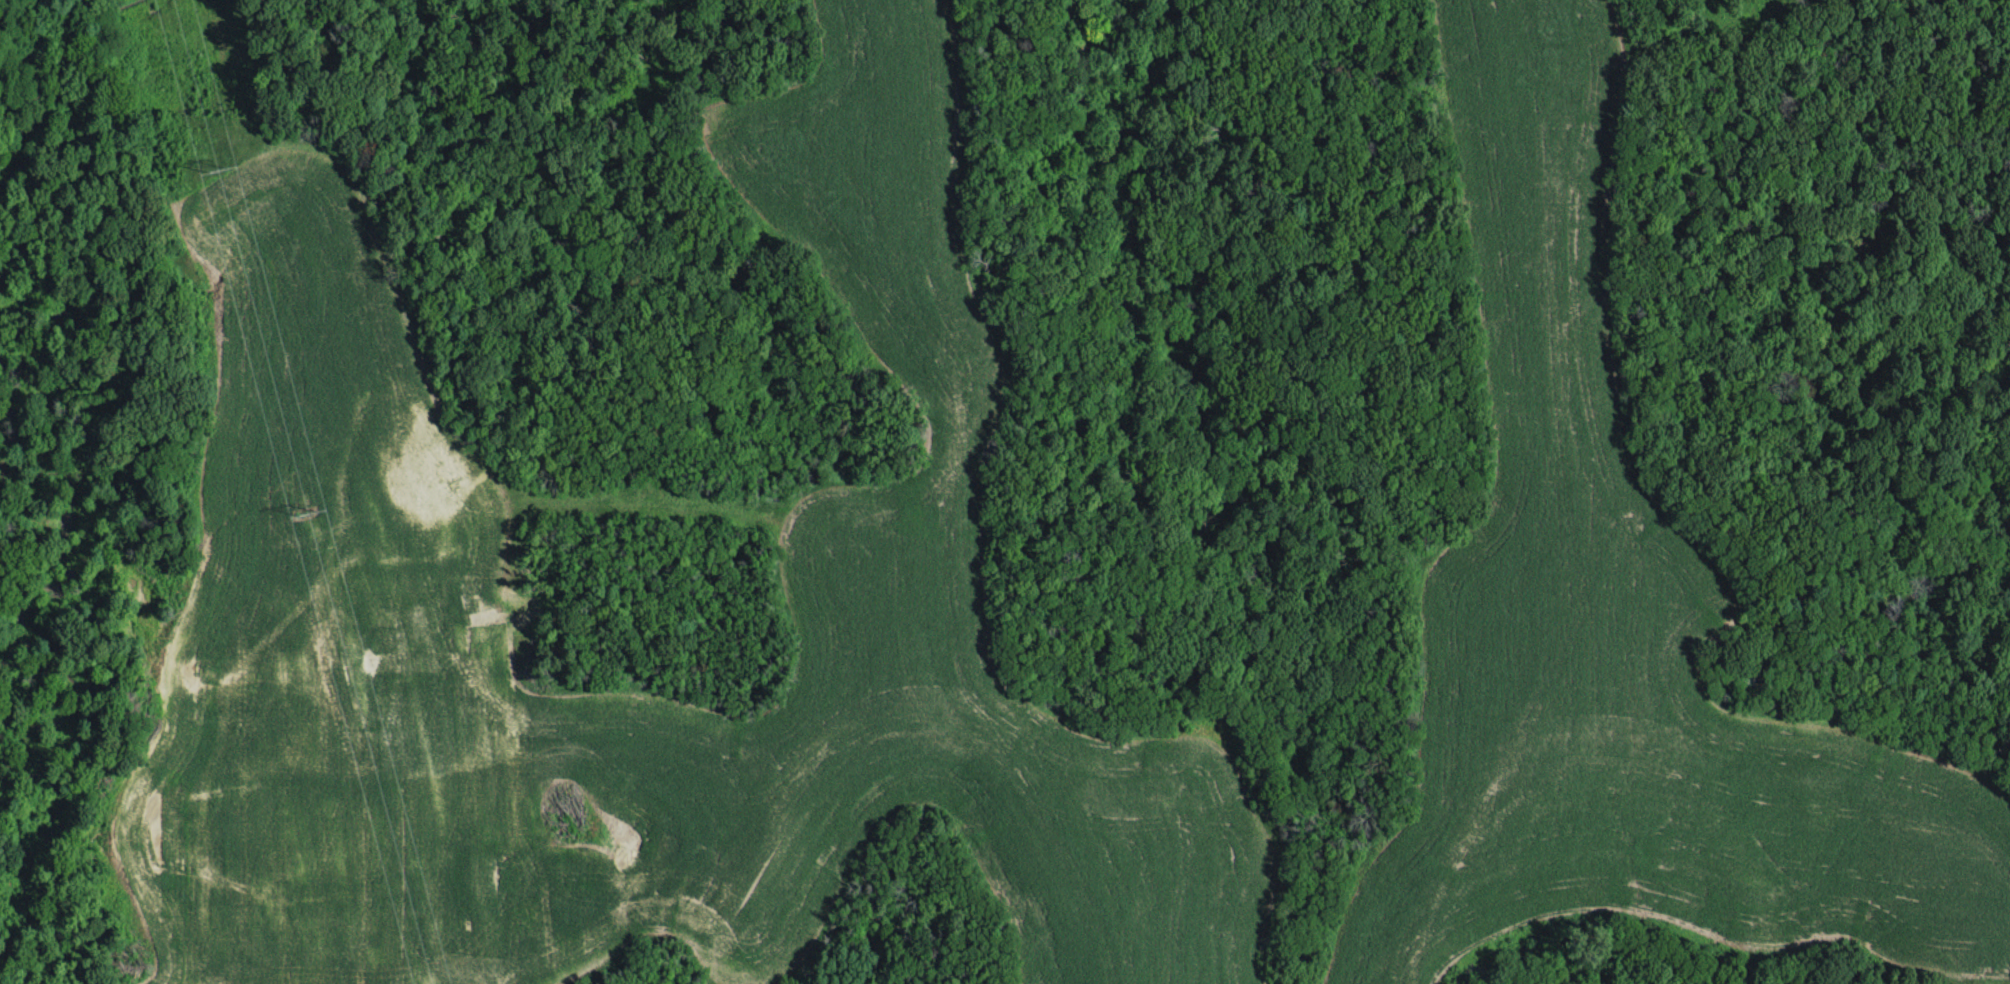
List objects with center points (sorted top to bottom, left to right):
power tower: (213, 168)
power tower: (304, 511)

